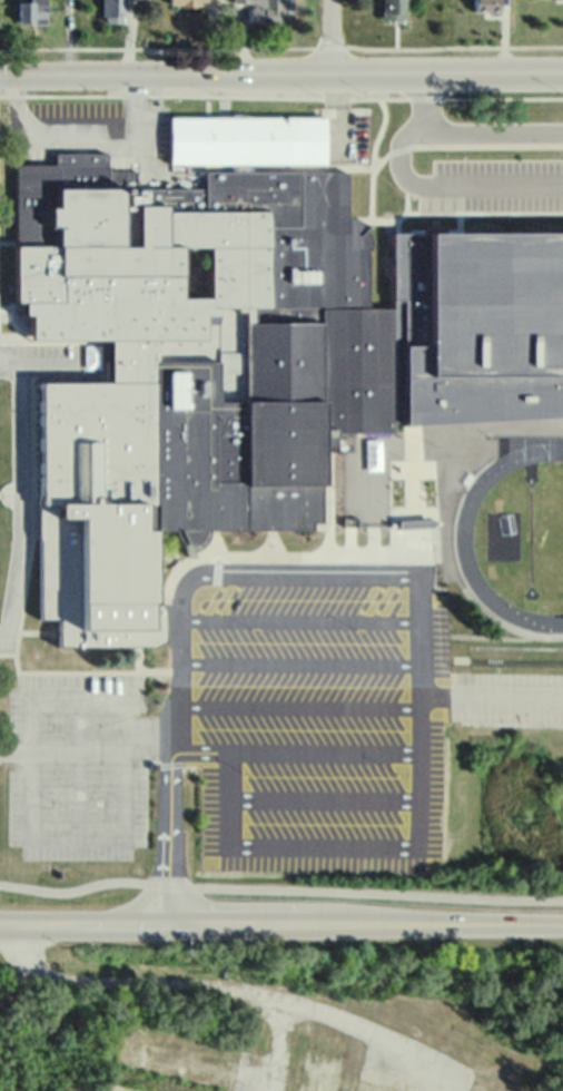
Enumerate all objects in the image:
building: (240, 1)
building: (189, 2)
building: (485, 6)
building: (269, 8)
building: (392, 9)
building: (112, 10)
building: (32, 12)
road: (330, 38)
road: (281, 76)
road: (280, 96)
road: (342, 112)
building: (89, 115)
road: (490, 128)
parking lot: (347, 136)
street lamp: (444, 150)
street lamp: (559, 150)
road: (428, 181)
parking lot: (492, 183)
building: (230, 351)
parking lot: (52, 360)
road: (10, 362)
road: (21, 465)
road: (376, 511)
track: (463, 529)
park: (554, 534)
road: (297, 618)
street lamp: (258, 630)
street lamp: (359, 630)
road: (176, 637)
road: (296, 660)
parking lot: (328, 689)
road: (490, 692)
road: (296, 705)
road: (208, 749)
parking lot: (76, 761)
street lamp: (261, 763)
road: (76, 765)
street lamp: (402, 766)
road: (206, 774)
road: (120, 835)
road: (347, 844)
road: (280, 887)
road: (281, 922)
road: (223, 994)
road: (278, 1049)
building: (180, 1056)
building: (317, 1071)
building: (377, 1085)
building: (126, 1088)
road: (441, 1088)

